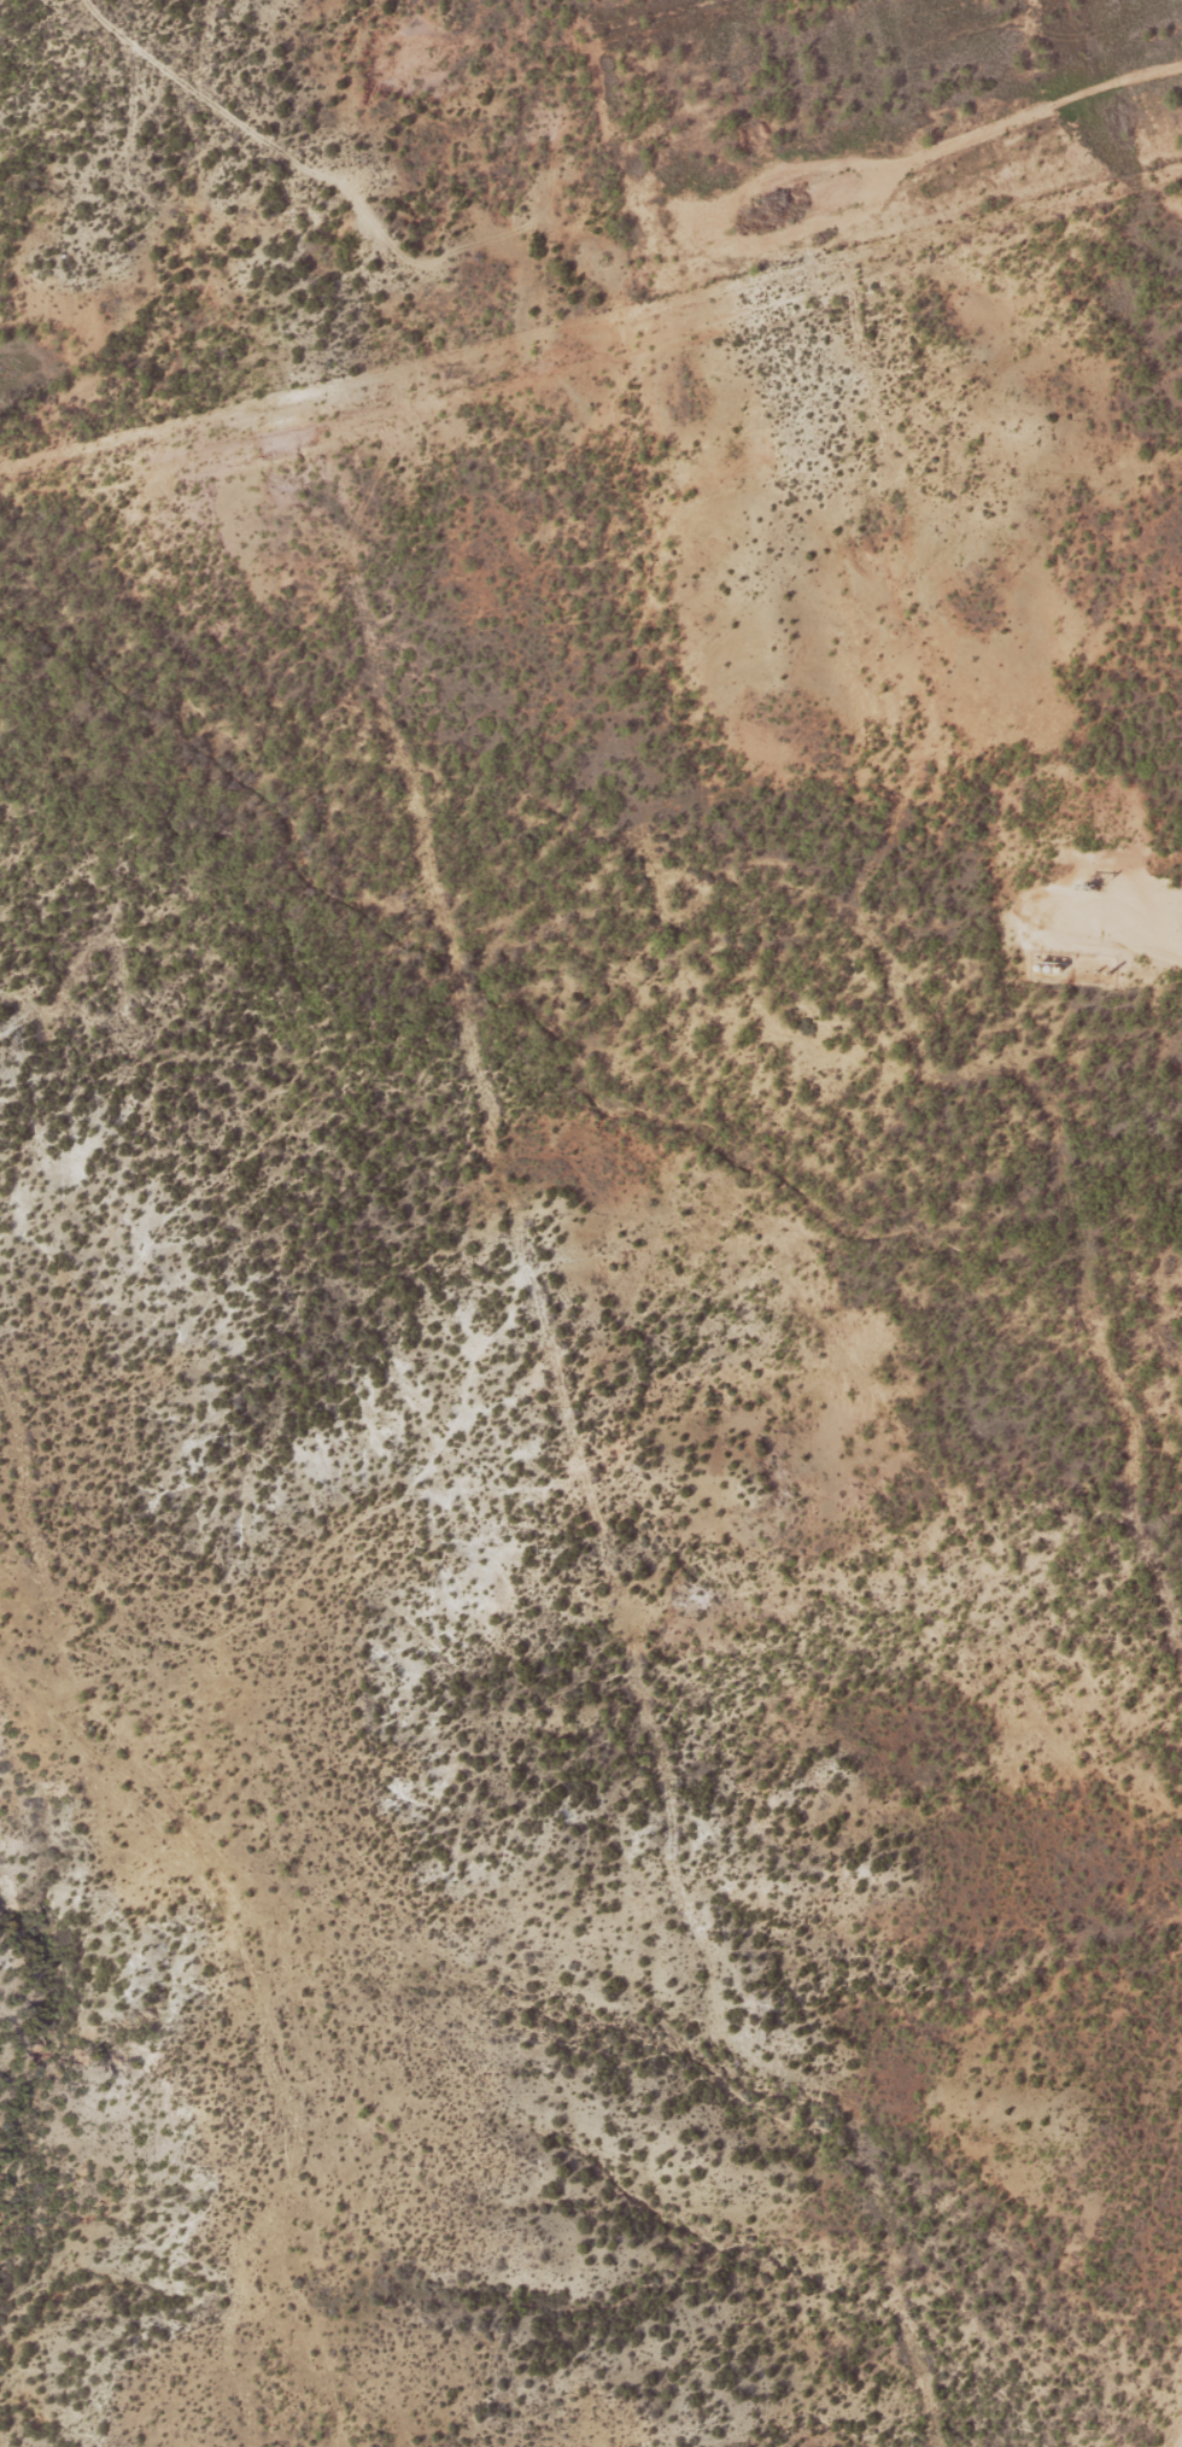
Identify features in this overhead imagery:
road: (1032, 105)
road: (776, 271)

